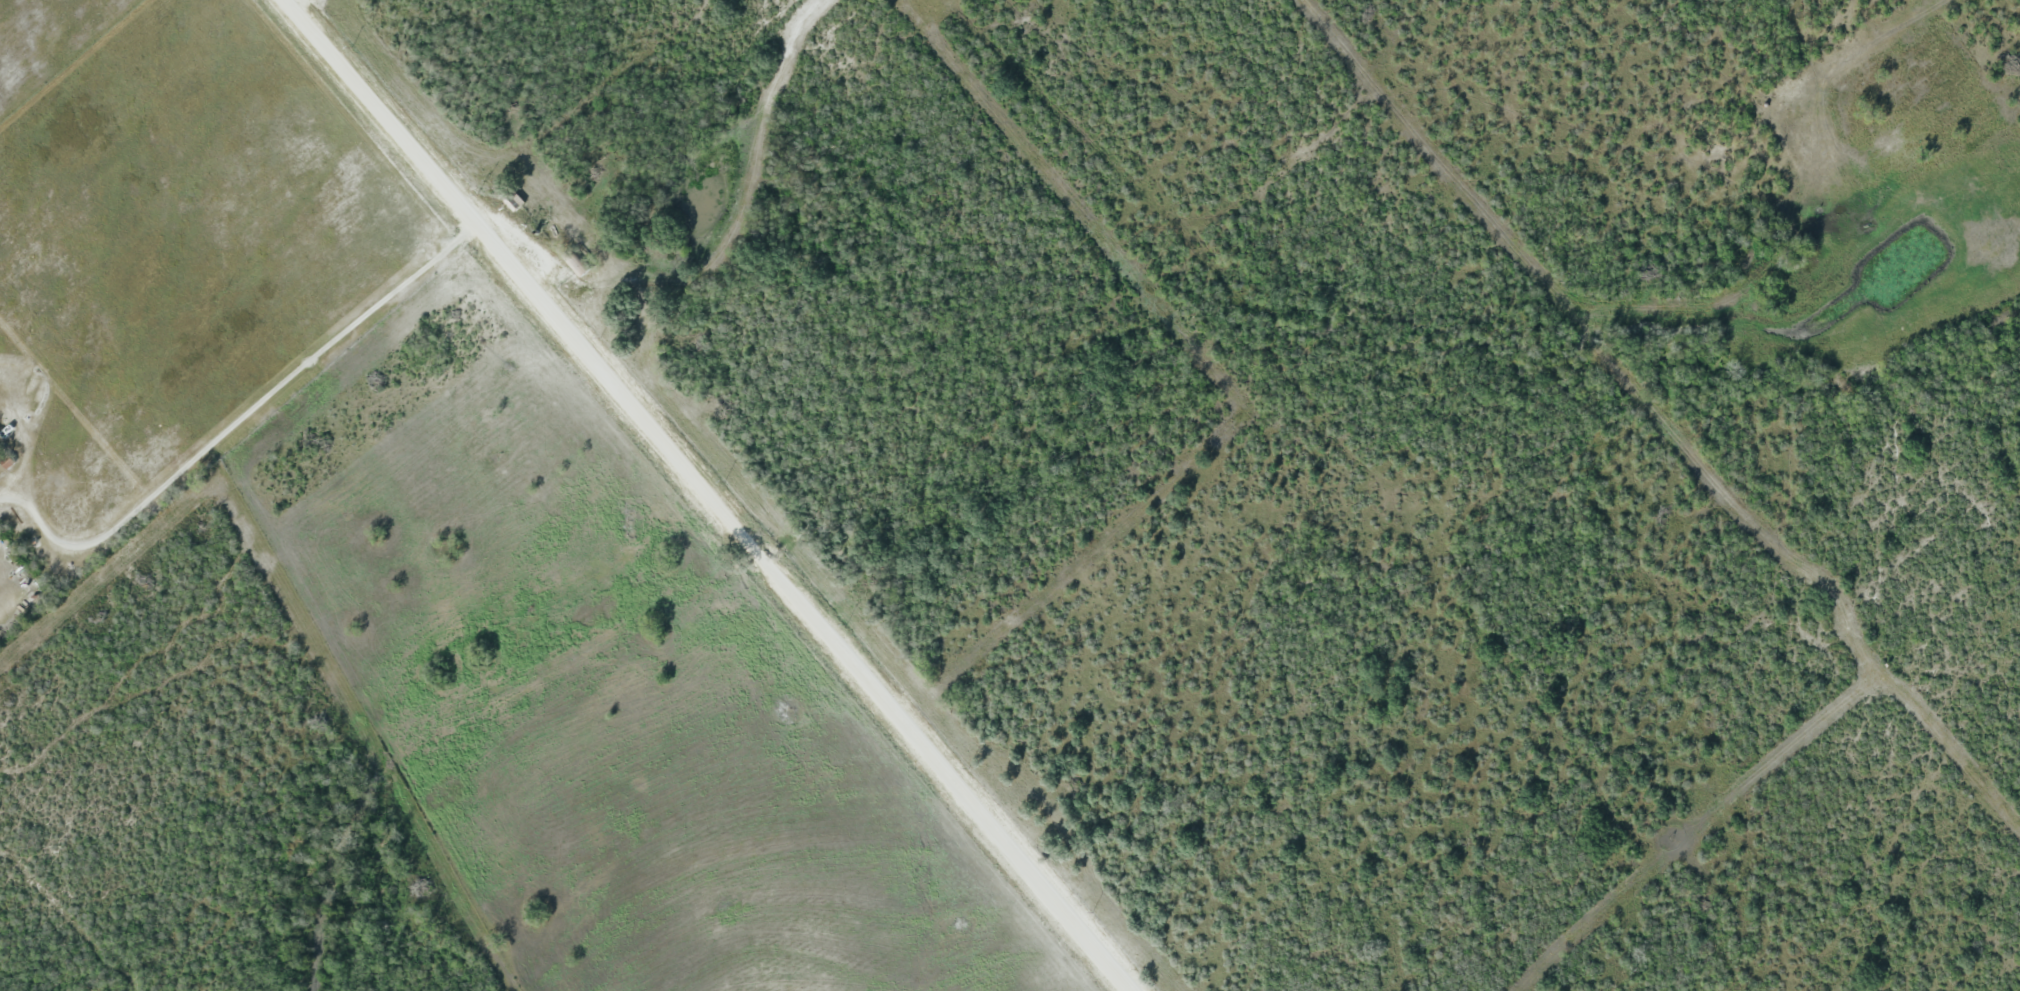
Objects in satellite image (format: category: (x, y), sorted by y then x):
road: (298, 1)
river: (1360, 335)
road: (240, 418)
road: (718, 494)
river: (463, 714)

